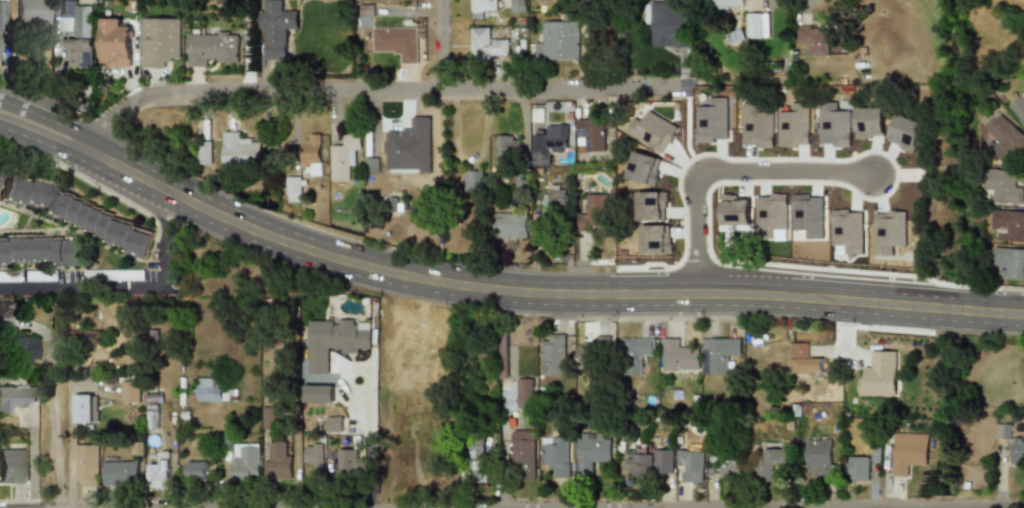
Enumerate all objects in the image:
road: (801, 4)
building: (517, 5)
building: (724, 5)
building: (481, 7)
building: (35, 14)
building: (670, 24)
building: (756, 25)
building: (277, 29)
building: (75, 31)
building: (812, 39)
building: (159, 41)
building: (395, 42)
building: (557, 42)
building: (113, 43)
road: (439, 43)
building: (486, 43)
building: (213, 49)
road: (382, 88)
building: (1018, 108)
building: (868, 120)
building: (711, 121)
building: (792, 124)
building: (756, 126)
building: (832, 126)
building: (905, 130)
building: (651, 131)
building: (591, 134)
building: (1006, 135)
building: (547, 143)
building: (408, 147)
building: (506, 150)
building: (203, 152)
building: (240, 152)
building: (311, 154)
building: (344, 157)
building: (640, 168)
road: (713, 174)
building: (472, 180)
building: (1002, 185)
building: (294, 189)
building: (596, 206)
building: (647, 206)
building: (547, 211)
building: (734, 211)
building: (72, 212)
building: (770, 212)
building: (807, 215)
building: (1009, 224)
building: (507, 225)
building: (846, 230)
building: (888, 231)
building: (652, 239)
building: (40, 250)
building: (1009, 262)
building: (123, 275)
building: (39, 276)
road: (495, 277)
road: (119, 286)
road: (495, 299)
building: (335, 341)
building: (17, 350)
building: (593, 354)
building: (634, 354)
building: (717, 354)
building: (551, 356)
building: (678, 356)
building: (804, 360)
building: (878, 375)
building: (209, 390)
building: (129, 392)
building: (523, 393)
building: (318, 394)
building: (16, 396)
building: (82, 408)
building: (269, 417)
road: (53, 419)
building: (333, 424)
building: (1001, 431)
road: (370, 438)
road: (71, 445)
building: (521, 448)
building: (914, 451)
building: (1017, 451)
building: (591, 452)
building: (314, 455)
building: (554, 455)
building: (817, 459)
road: (32, 461)
building: (278, 461)
building: (663, 461)
building: (768, 461)
building: (245, 463)
building: (472, 463)
building: (639, 463)
building: (87, 464)
building: (351, 464)
building: (725, 464)
building: (10, 466)
building: (690, 466)
building: (856, 468)
building: (195, 470)
building: (161, 472)
building: (121, 473)
road: (60, 497)
road: (821, 507)
road: (914, 507)

